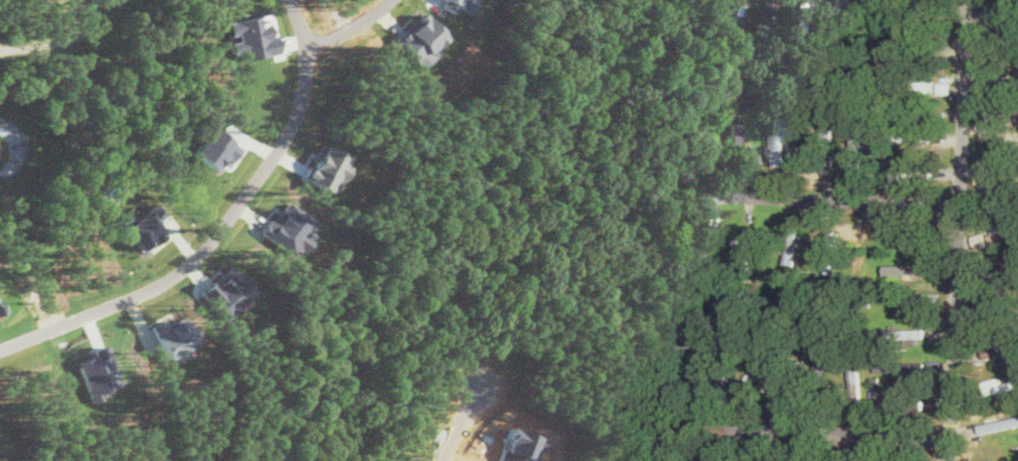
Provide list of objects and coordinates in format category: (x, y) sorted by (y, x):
building: (457, 4)
building: (798, 8)
road: (349, 28)
building: (251, 35)
building: (419, 38)
building: (734, 132)
building: (826, 139)
building: (214, 147)
building: (857, 154)
road: (831, 202)
road: (219, 227)
building: (288, 227)
building: (144, 229)
road: (964, 230)
building: (1004, 235)
building: (750, 246)
building: (227, 292)
building: (900, 335)
building: (174, 337)
building: (1000, 348)
building: (97, 371)
building: (892, 371)
building: (1000, 384)
road: (462, 423)
road: (844, 431)

